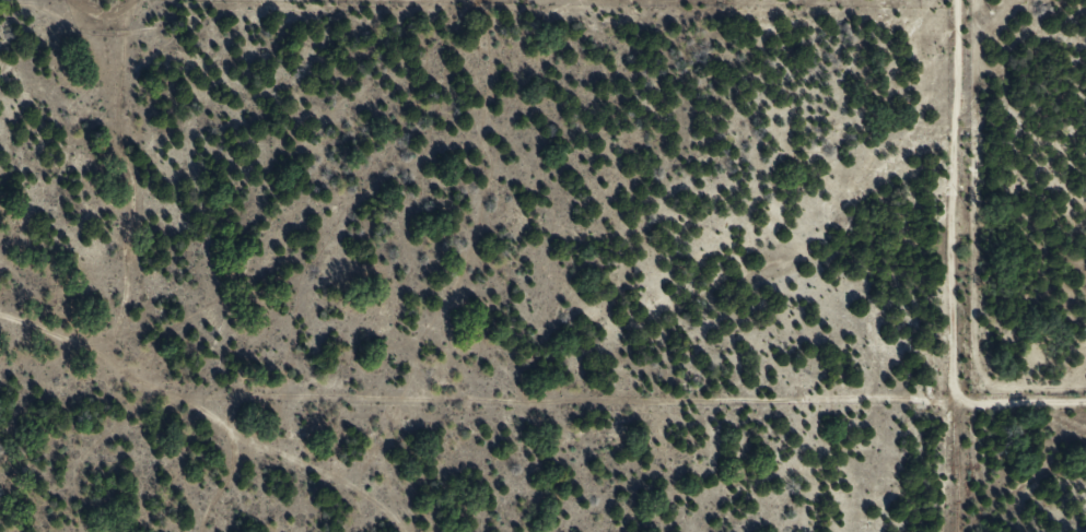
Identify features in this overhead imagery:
road: (219, 414)

